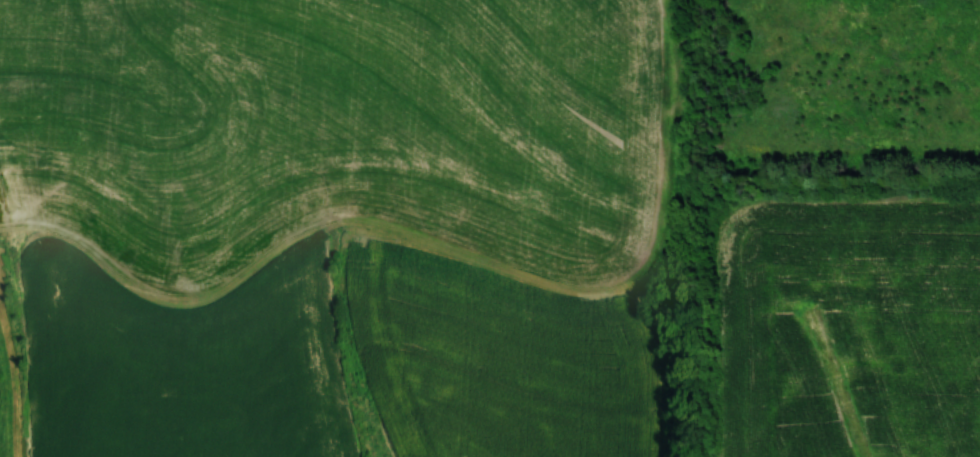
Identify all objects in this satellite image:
park: (841, 88)

